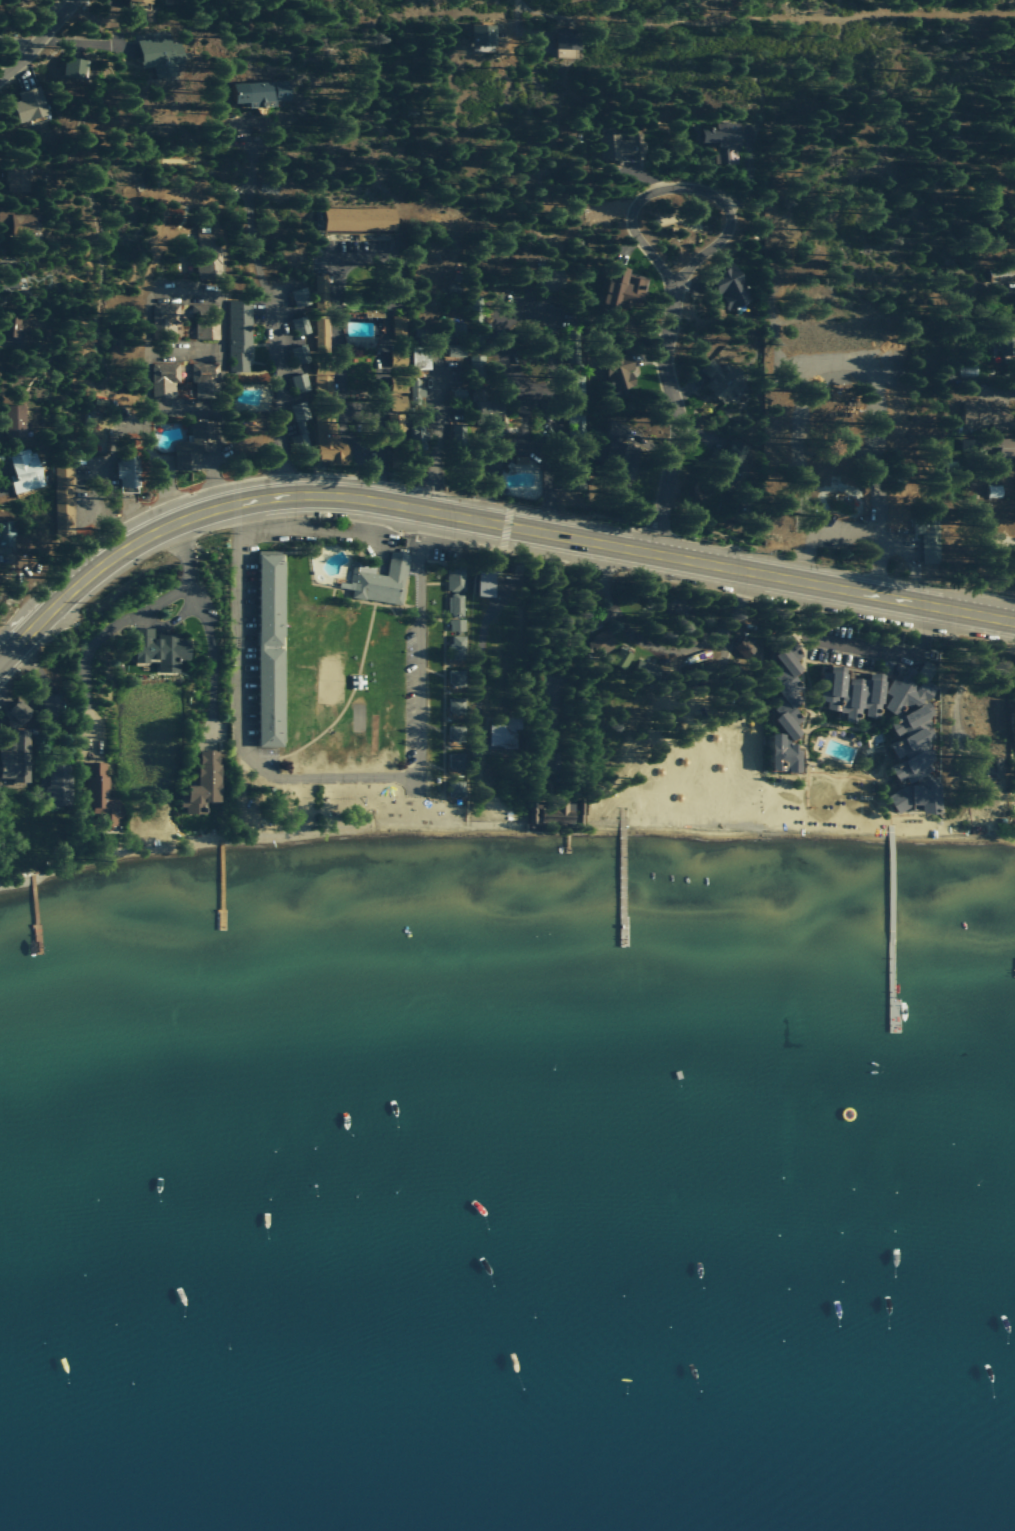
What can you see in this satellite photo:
building: (141, 0)
building: (482, 37)
road: (38, 41)
building: (566, 42)
building: (159, 55)
building: (74, 67)
building: (260, 92)
building: (28, 104)
building: (723, 141)
building: (618, 144)
building: (15, 176)
road: (677, 186)
building: (359, 220)
building: (17, 221)
building: (207, 258)
building: (1001, 273)
building: (7, 276)
building: (553, 280)
building: (623, 287)
building: (730, 287)
building: (321, 292)
building: (299, 296)
building: (164, 320)
building: (207, 324)
building: (399, 324)
building: (300, 325)
building: (10, 327)
building: (321, 331)
building: (457, 339)
building: (572, 354)
building: (420, 359)
building: (968, 369)
building: (323, 371)
building: (619, 372)
building: (164, 380)
building: (721, 380)
building: (204, 381)
building: (300, 382)
building: (323, 387)
building: (574, 388)
building: (415, 392)
building: (458, 393)
building: (395, 399)
building: (488, 411)
building: (986, 414)
road: (672, 418)
building: (575, 420)
building: (13, 421)
building: (300, 424)
building: (396, 424)
building: (90, 432)
building: (415, 432)
building: (327, 440)
road: (873, 441)
building: (197, 445)
road: (147, 446)
building: (1004, 446)
building: (617, 452)
building: (732, 461)
building: (24, 471)
building: (128, 475)
building: (63, 489)
building: (994, 491)
road: (411, 509)
road: (334, 531)
building: (6, 533)
road: (816, 534)
building: (928, 538)
building: (455, 579)
building: (380, 580)
building: (485, 583)
building: (456, 605)
road: (942, 609)
building: (456, 625)
building: (600, 643)
road: (668, 646)
road: (859, 646)
building: (457, 648)
building: (744, 648)
building: (159, 649)
building: (270, 649)
building: (621, 658)
building: (456, 678)
building: (787, 688)
building: (851, 693)
building: (456, 705)
building: (51, 706)
building: (1014, 730)
building: (456, 732)
building: (504, 734)
building: (914, 743)
building: (783, 755)
building: (456, 761)
building: (993, 769)
road: (331, 776)
building: (203, 784)
building: (56, 786)
building: (99, 794)
pier: (566, 841)
pier: (219, 882)
pier: (621, 883)
pier: (32, 912)
pier: (890, 928)

